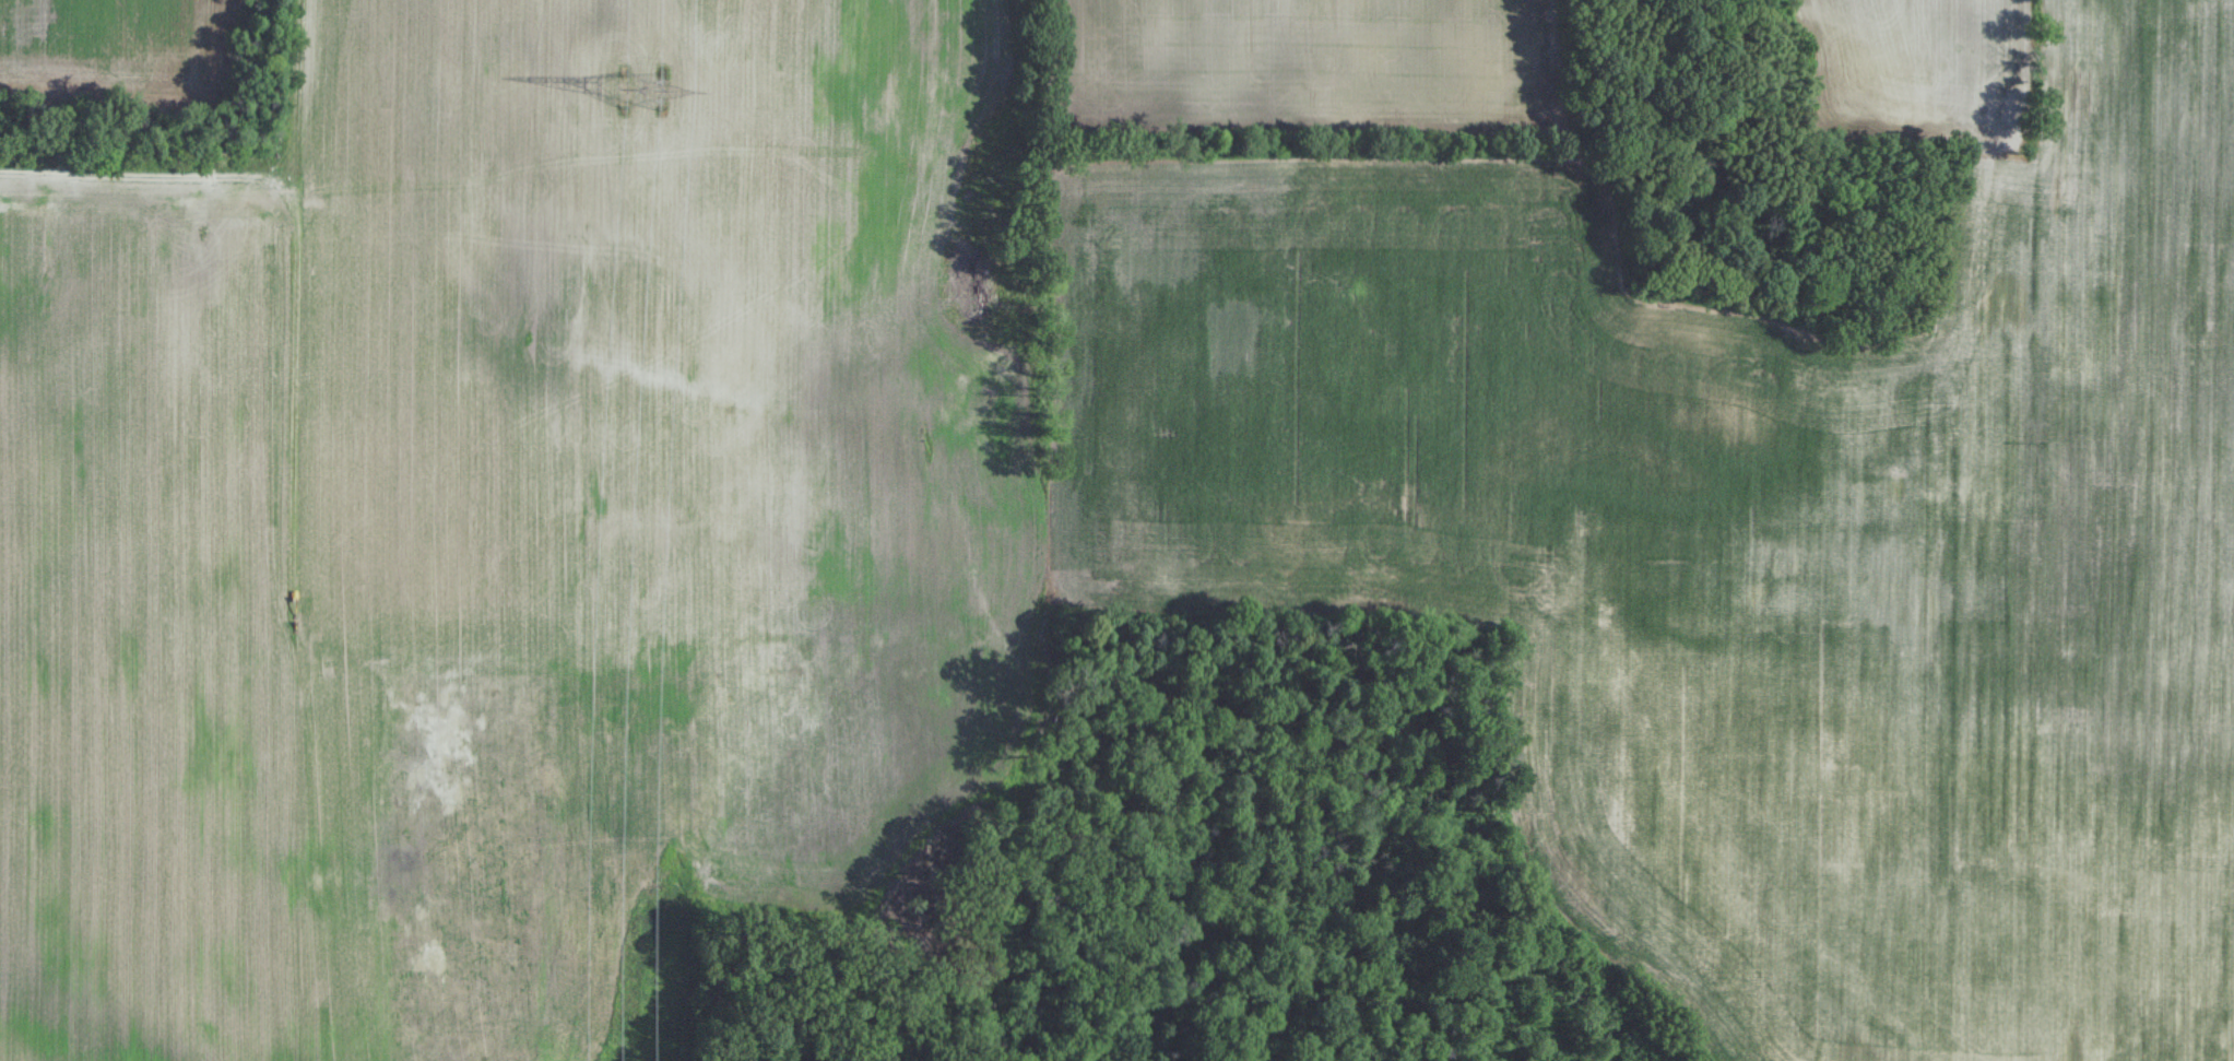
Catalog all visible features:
power tower: (646, 90)

